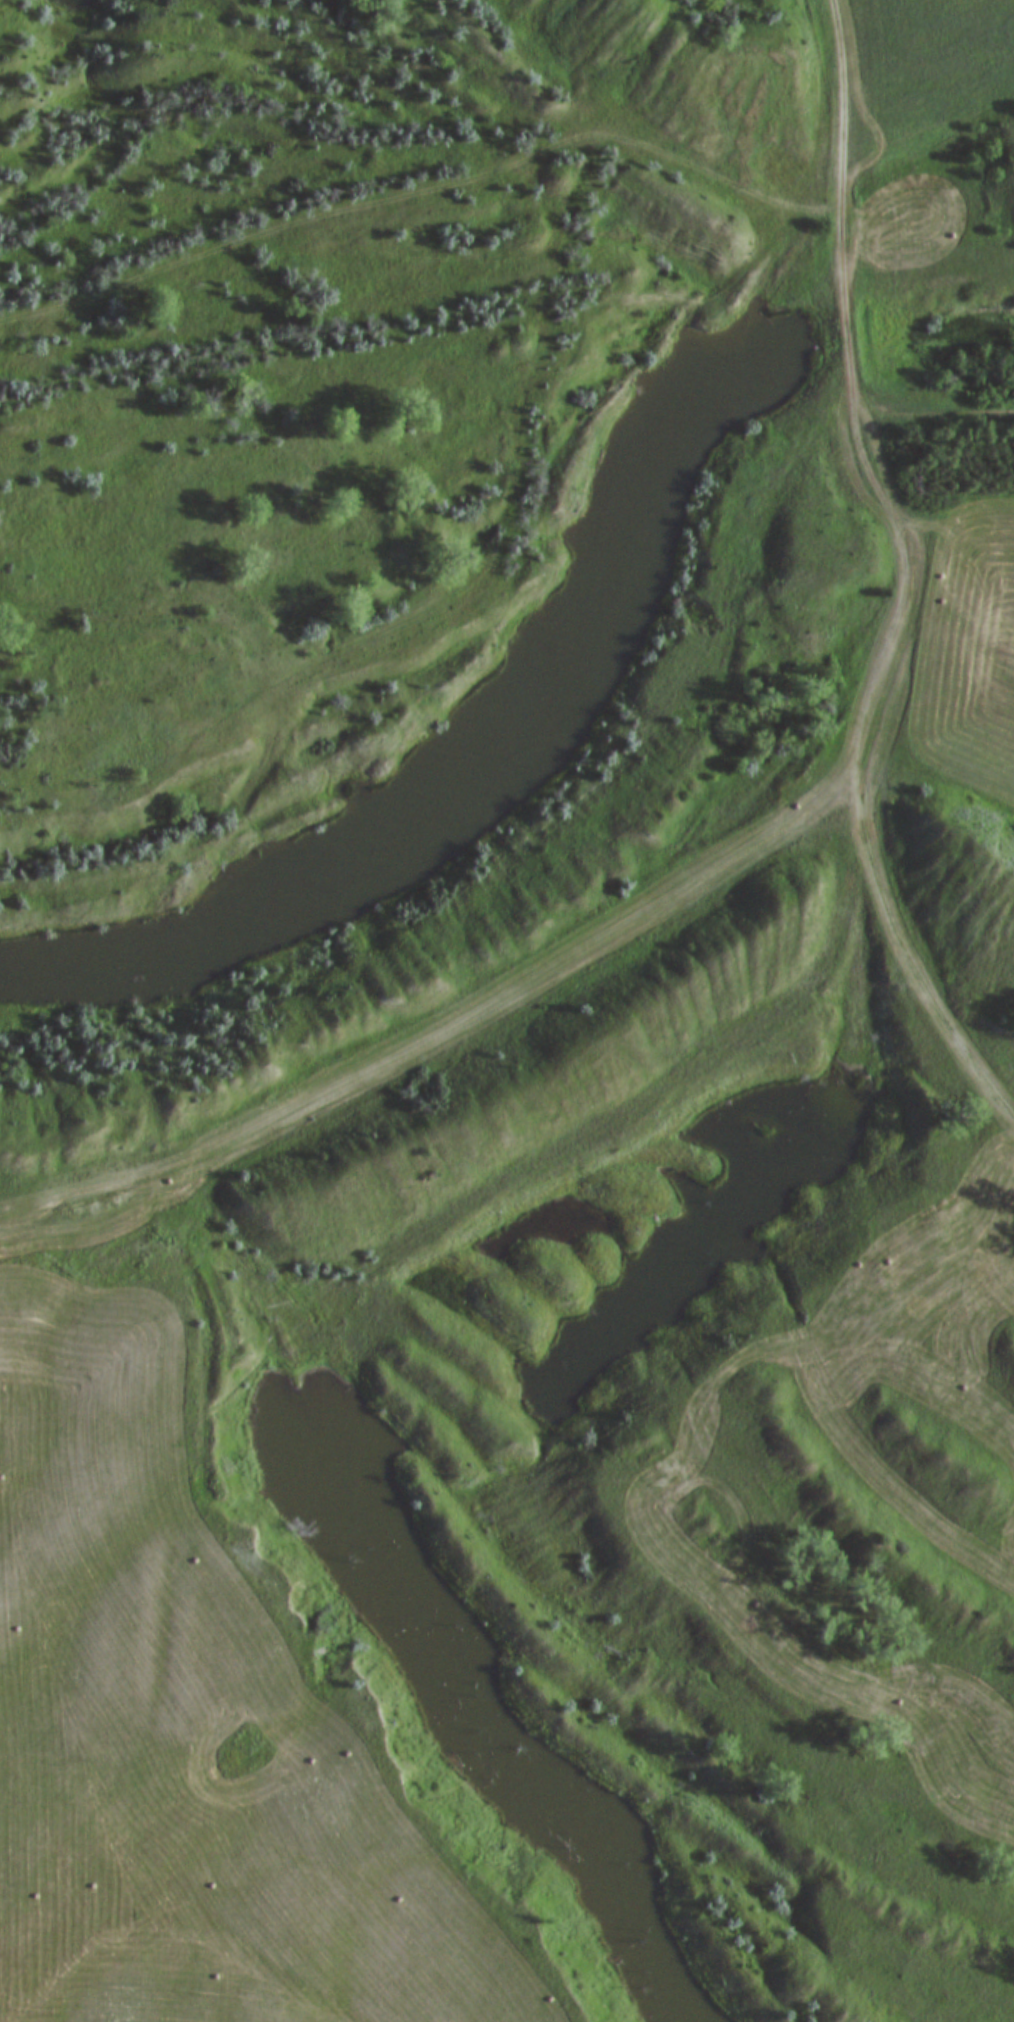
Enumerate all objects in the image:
road: (420, 193)
road: (931, 414)
road: (914, 575)
quarry: (529, 940)

